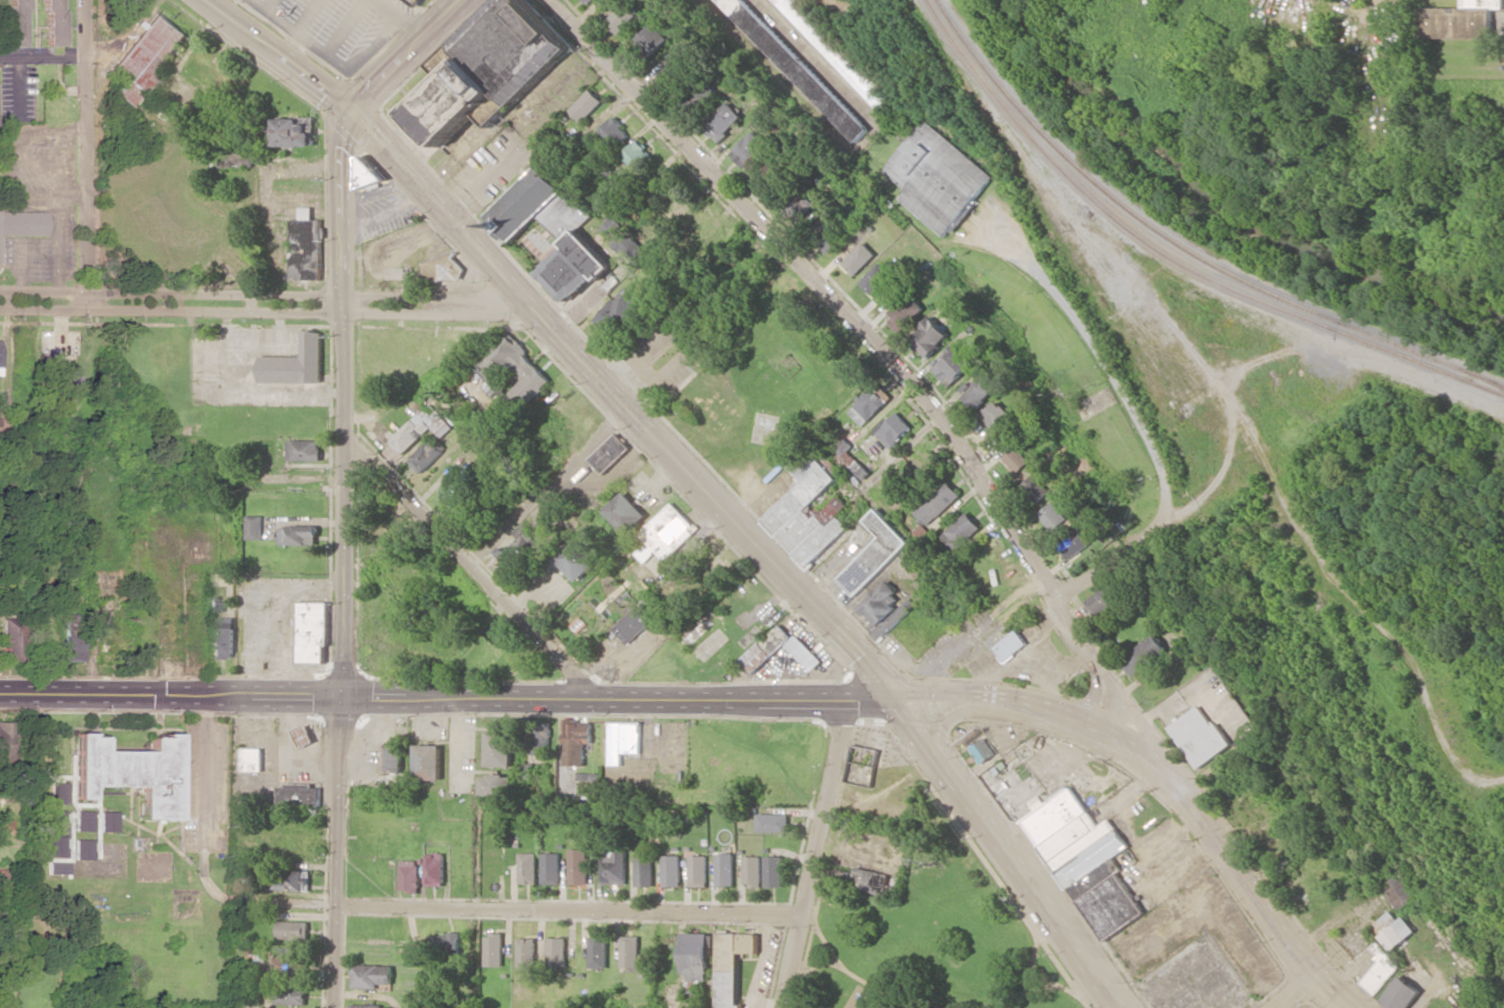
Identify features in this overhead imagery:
building: (422, 0)
building: (588, 1)
building: (415, 2)
road: (269, 5)
road: (307, 16)
building: (621, 16)
road: (406, 18)
building: (1458, 20)
building: (52, 22)
building: (14, 23)
parking lot: (338, 26)
road: (345, 27)
building: (648, 42)
building: (148, 50)
building: (838, 54)
road: (411, 57)
road: (276, 58)
road: (330, 58)
building: (796, 67)
building: (489, 68)
building: (676, 70)
building: (699, 94)
building: (124, 97)
building: (586, 105)
traffic signals: (353, 116)
building: (721, 121)
building: (290, 132)
building: (615, 132)
road: (517, 142)
building: (748, 148)
road: (88, 150)
building: (637, 156)
building: (239, 159)
building: (368, 173)
building: (774, 174)
building: (936, 177)
road: (377, 190)
building: (810, 198)
road: (342, 208)
road: (440, 209)
road: (385, 212)
parking lot: (385, 215)
building: (22, 223)
building: (553, 230)
building: (822, 235)
building: (623, 239)
railway: (1183, 245)
building: (305, 247)
railway: (1172, 258)
building: (859, 259)
building: (442, 268)
building: (876, 278)
road: (171, 301)
road: (435, 303)
building: (619, 309)
building: (904, 312)
building: (929, 337)
building: (295, 363)
building: (952, 364)
road: (743, 368)
building: (495, 370)
road: (904, 372)
building: (59, 377)
railway: (1486, 378)
building: (977, 388)
building: (866, 406)
building: (996, 414)
building: (421, 428)
building: (892, 429)
road: (1143, 434)
building: (303, 450)
building: (611, 453)
building: (426, 456)
building: (849, 458)
building: (1015, 459)
road: (284, 480)
road: (548, 486)
building: (1036, 488)
building: (456, 489)
road: (712, 500)
building: (935, 503)
building: (625, 512)
building: (808, 512)
building: (1052, 516)
building: (253, 527)
building: (959, 532)
building: (666, 533)
building: (298, 535)
building: (1073, 543)
building: (516, 552)
building: (874, 554)
building: (576, 560)
road: (471, 568)
building: (1102, 600)
building: (216, 605)
building: (885, 610)
building: (635, 621)
building: (498, 631)
building: (312, 632)
building: (10, 637)
building: (222, 638)
building: (71, 645)
building: (1010, 645)
building: (763, 651)
building: (1144, 654)
road: (344, 655)
road: (447, 699)
traffic signals: (345, 700)
building: (304, 735)
building: (1200, 736)
building: (624, 740)
building: (576, 742)
building: (3, 744)
building: (498, 749)
building: (982, 750)
building: (41, 753)
building: (250, 759)
building: (393, 760)
building: (426, 762)
building: (861, 765)
building: (131, 773)
road: (205, 773)
road: (1165, 779)
building: (496, 785)
parking lot: (204, 786)
building: (57, 793)
building: (297, 795)
building: (1036, 803)
building: (55, 820)
building: (83, 821)
building: (107, 822)
building: (772, 822)
building: (55, 846)
building: (83, 849)
road: (1006, 853)
road: (815, 856)
building: (1086, 861)
building: (577, 866)
building: (613, 867)
building: (434, 868)
building: (527, 868)
building: (550, 868)
building: (51, 869)
building: (724, 869)
building: (697, 870)
building: (643, 871)
building: (670, 871)
building: (751, 871)
building: (773, 871)
building: (408, 875)
building: (290, 880)
building: (869, 880)
building: (1403, 892)
road: (570, 912)
building: (1393, 929)
building: (291, 930)
park: (930, 938)
building: (447, 943)
building: (493, 950)
building: (629, 951)
building: (556, 952)
building: (597, 952)
building: (526, 953)
building: (695, 956)
building: (292, 965)
building: (731, 965)
building: (1380, 970)
building: (370, 976)
road: (1296, 991)
building: (1400, 994)
building: (290, 995)
building: (369, 1006)

